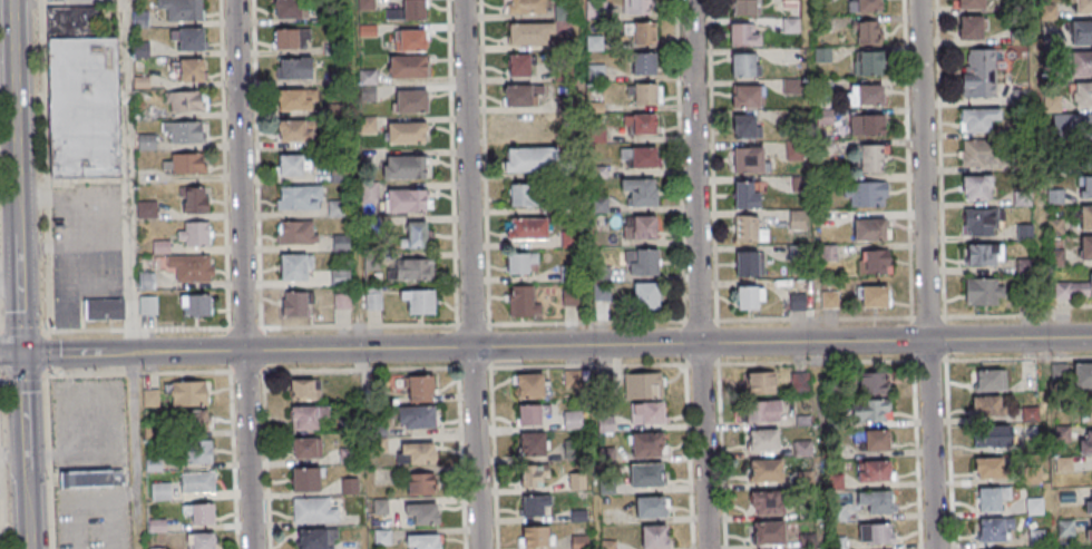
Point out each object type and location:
building: (49, 0)
building: (791, 3)
building: (971, 4)
building: (864, 6)
building: (525, 7)
building: (743, 7)
building: (1083, 7)
building: (636, 8)
building: (183, 9)
building: (290, 10)
building: (407, 11)
building: (71, 23)
building: (790, 24)
building: (971, 28)
building: (529, 32)
building: (866, 32)
building: (1081, 33)
building: (643, 35)
building: (743, 36)
building: (191, 39)
building: (285, 40)
building: (410, 40)
building: (869, 62)
building: (644, 63)
building: (745, 65)
building: (1081, 65)
building: (407, 66)
building: (519, 66)
building: (187, 69)
building: (295, 69)
building: (979, 72)
building: (645, 94)
building: (866, 95)
building: (519, 96)
building: (747, 96)
building: (1083, 96)
building: (411, 100)
building: (187, 101)
building: (295, 101)
building: (84, 107)
road: (16, 118)
building: (977, 119)
building: (640, 124)
building: (866, 125)
building: (744, 126)
building: (1080, 127)
building: (406, 131)
building: (185, 133)
building: (294, 133)
building: (146, 143)
building: (792, 151)
building: (981, 154)
building: (640, 157)
building: (1086, 157)
building: (529, 159)
building: (748, 159)
building: (870, 159)
building: (184, 164)
building: (291, 166)
building: (404, 167)
road: (126, 176)
building: (1084, 187)
building: (976, 188)
building: (640, 193)
building: (745, 195)
building: (866, 195)
building: (299, 197)
building: (524, 197)
building: (194, 199)
building: (406, 200)
building: (338, 207)
building: (1085, 218)
building: (797, 220)
building: (982, 222)
building: (640, 228)
building: (745, 228)
building: (528, 229)
building: (869, 229)
building: (298, 232)
building: (196, 234)
building: (416, 234)
building: (341, 243)
parking lot: (85, 246)
building: (1085, 248)
building: (983, 254)
building: (874, 261)
building: (641, 263)
building: (521, 264)
building: (745, 264)
building: (294, 266)
building: (191, 267)
building: (410, 269)
road: (243, 274)
road: (470, 274)
road: (699, 274)
road: (925, 274)
building: (340, 277)
building: (146, 281)
building: (1074, 291)
building: (984, 292)
road: (20, 296)
building: (645, 296)
building: (872, 296)
building: (571, 297)
building: (750, 297)
building: (373, 298)
building: (418, 300)
building: (341, 301)
building: (523, 302)
building: (296, 303)
building: (196, 304)
building: (148, 305)
building: (104, 308)
road: (617, 345)
road: (136, 353)
road: (76, 354)
road: (11, 355)
traffic signals: (22, 355)
building: (1083, 375)
building: (573, 379)
building: (986, 380)
building: (761, 382)
building: (874, 383)
building: (530, 385)
building: (643, 386)
building: (420, 388)
building: (304, 389)
building: (189, 394)
building: (150, 398)
road: (23, 404)
building: (987, 406)
building: (870, 410)
building: (1085, 410)
building: (762, 411)
building: (647, 413)
building: (529, 414)
building: (306, 416)
building: (419, 416)
building: (573, 420)
building: (196, 422)
building: (606, 424)
building: (992, 437)
building: (763, 440)
building: (876, 440)
building: (1085, 442)
building: (532, 444)
building: (646, 444)
building: (305, 448)
building: (571, 449)
road: (134, 451)
building: (198, 451)
building: (416, 453)
building: (989, 468)
building: (764, 470)
building: (874, 471)
building: (646, 474)
building: (534, 476)
building: (89, 479)
building: (305, 479)
building: (197, 482)
building: (420, 483)
building: (160, 491)
building: (991, 499)
road: (26, 501)
building: (876, 501)
building: (767, 502)
building: (1089, 503)
building: (535, 504)
building: (652, 507)
building: (313, 511)
building: (422, 513)
building: (202, 516)
road: (591, 525)
building: (993, 529)
building: (768, 532)
building: (876, 533)
building: (1089, 533)
building: (535, 537)
building: (656, 537)
building: (312, 539)
building: (201, 541)
building: (423, 541)

